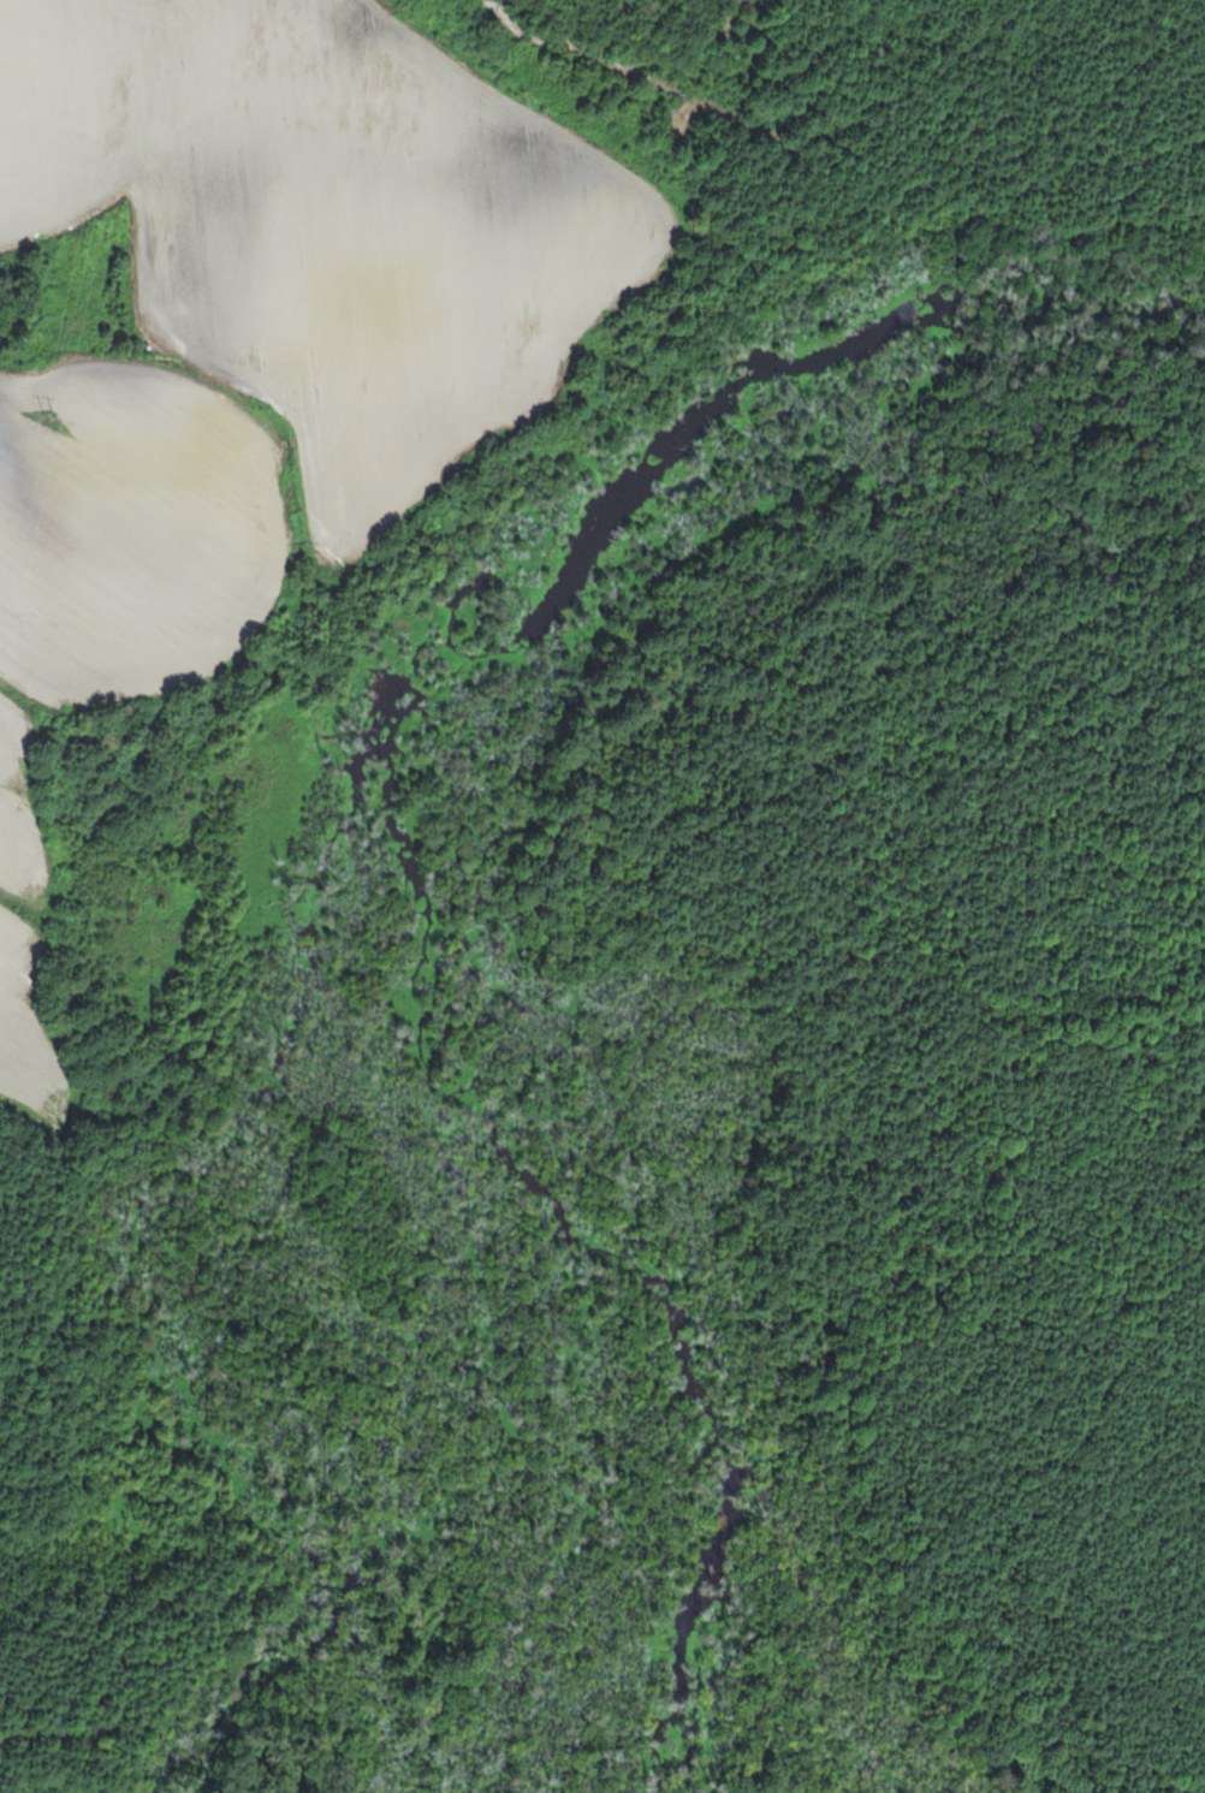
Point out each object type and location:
power tower: (49, 412)

